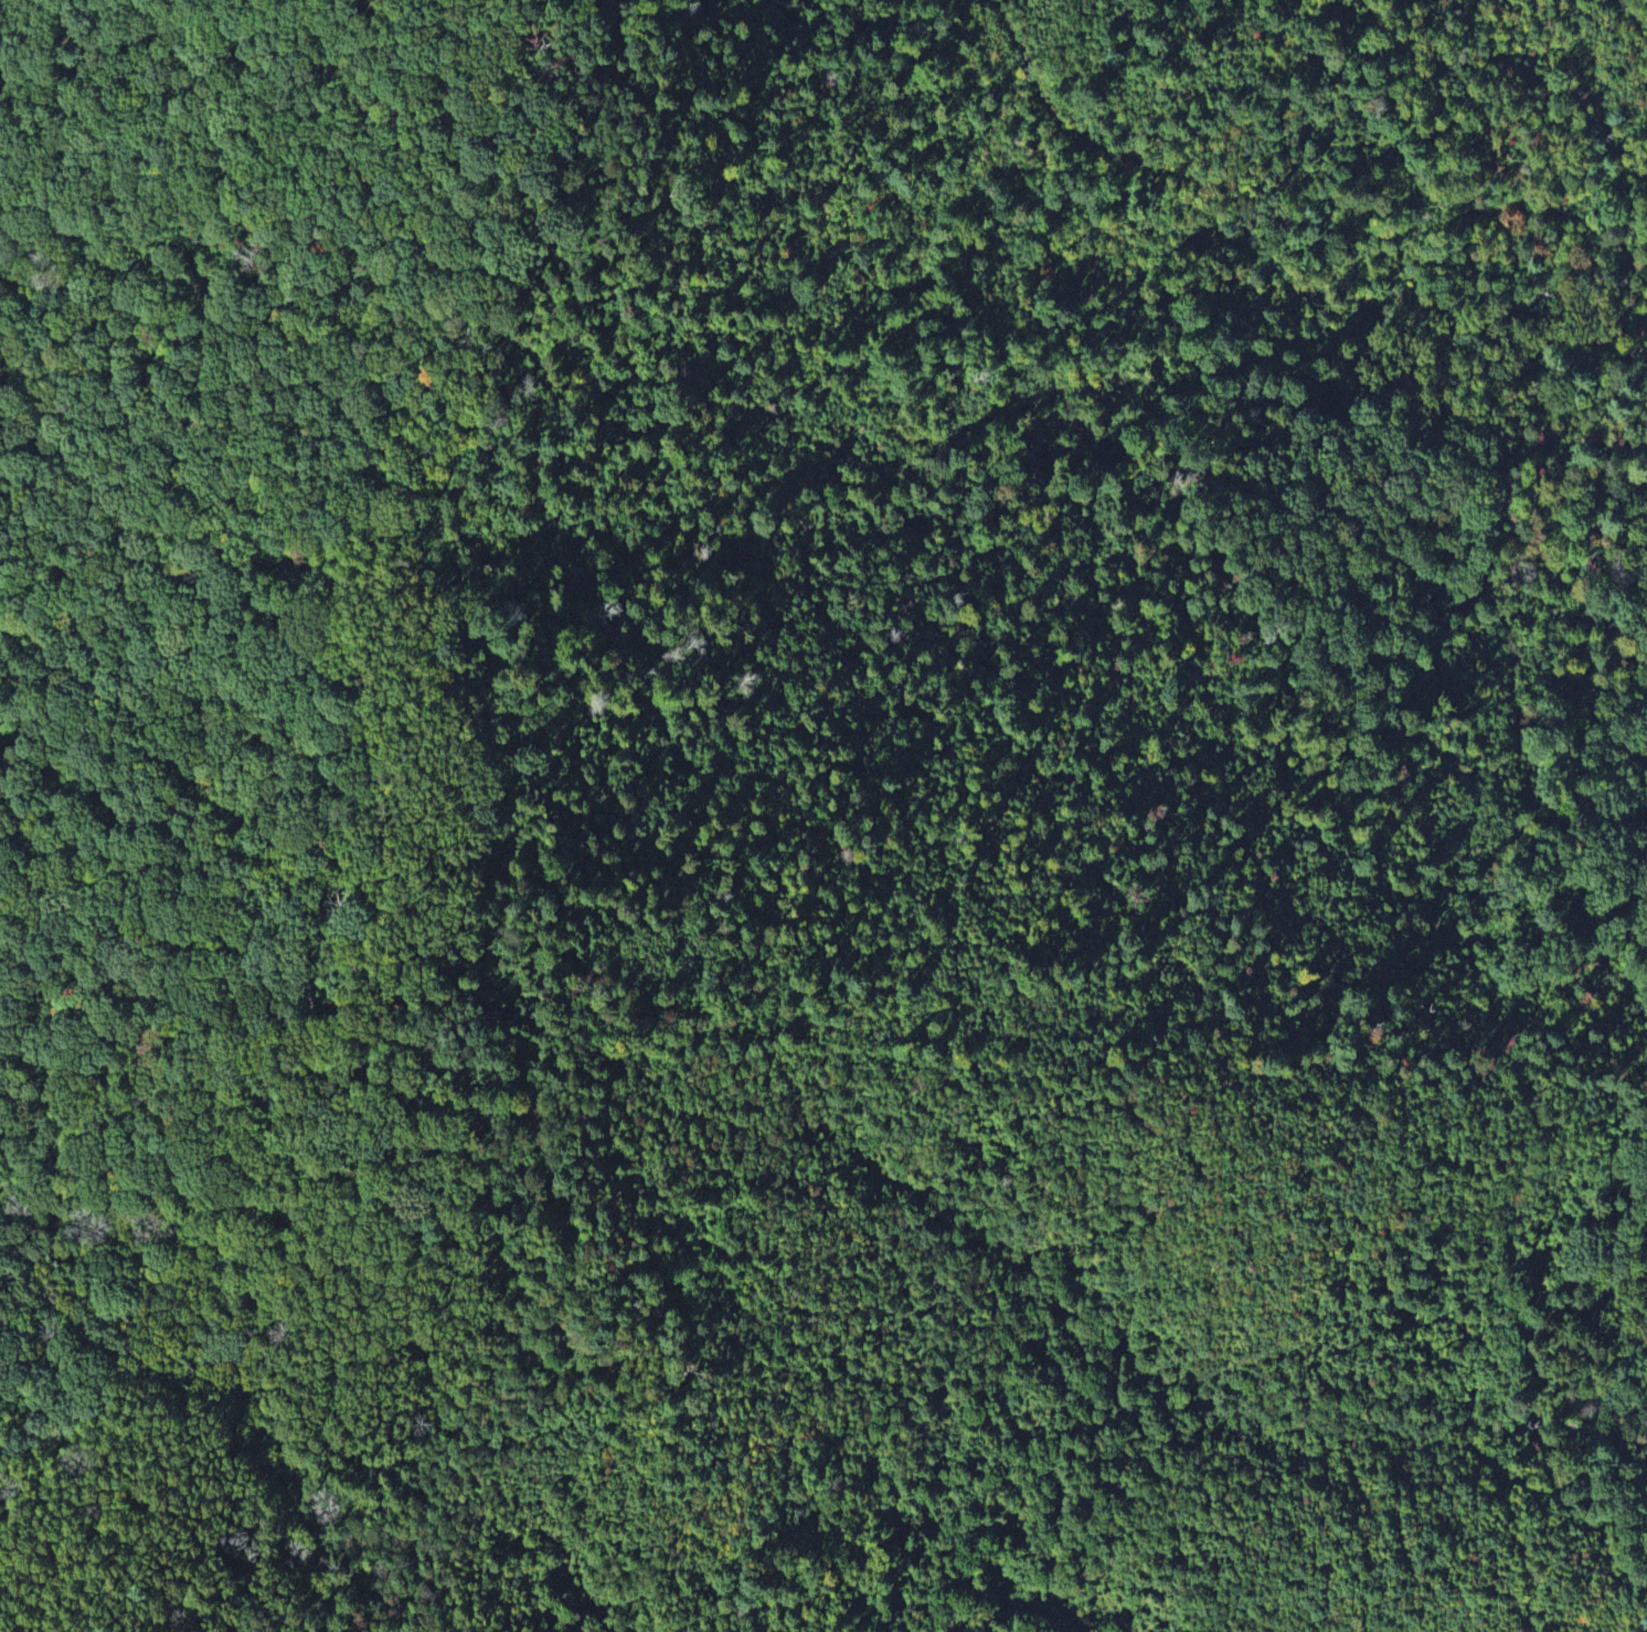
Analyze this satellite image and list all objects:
road: (1630, 23)

